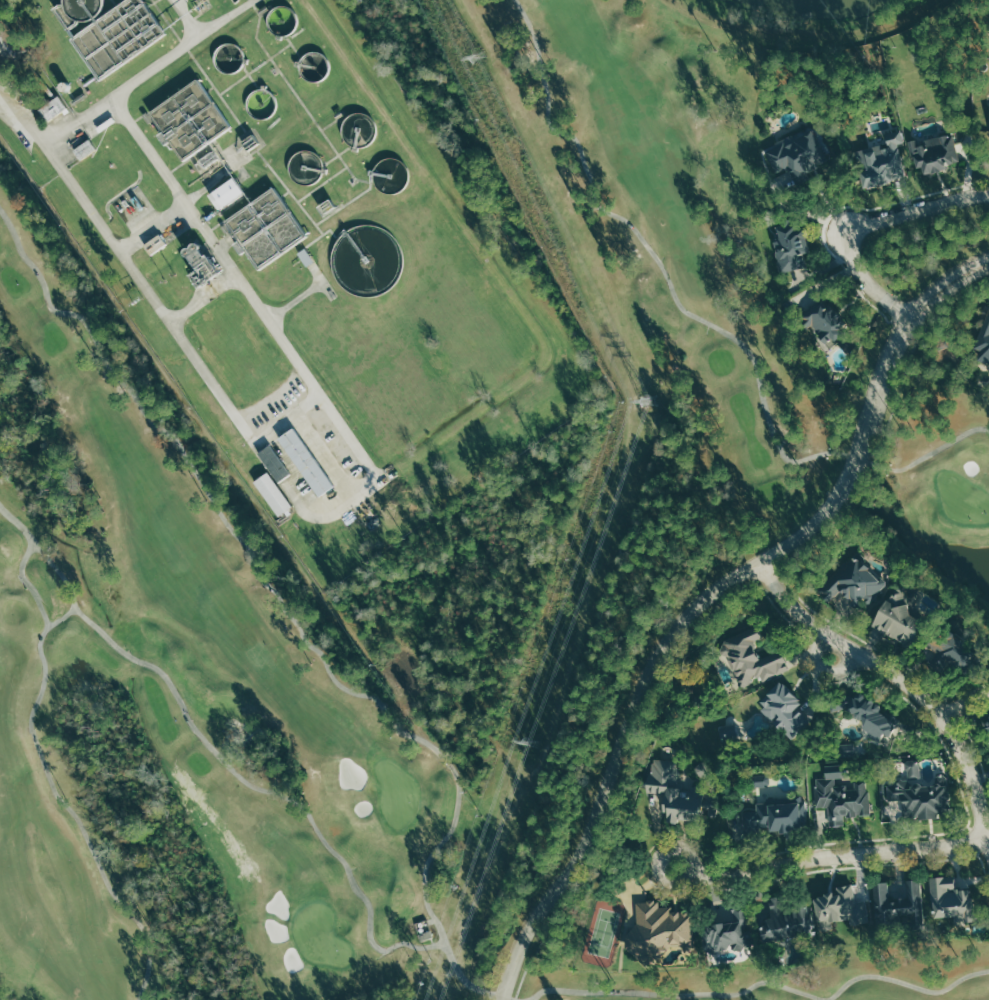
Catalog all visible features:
building: (13, 40)
power tower: (478, 56)
road: (142, 79)
building: (58, 108)
building: (988, 112)
building: (197, 124)
building: (932, 152)
building: (799, 158)
building: (881, 168)
building: (232, 193)
road: (832, 210)
road: (862, 223)
building: (272, 227)
road: (155, 228)
building: (791, 246)
building: (209, 265)
road: (945, 281)
road: (204, 301)
wastewater plant: (353, 308)
road: (700, 318)
building: (827, 321)
building: (983, 339)
power tower: (648, 400)
road: (251, 433)
building: (313, 461)
building: (279, 493)
park: (962, 498)
park: (121, 499)
road: (820, 535)
road: (42, 554)
road: (261, 578)
building: (851, 584)
building: (901, 617)
road: (671, 630)
building: (954, 651)
building: (748, 656)
road: (822, 668)
road: (845, 678)
road: (904, 682)
road: (965, 699)
building: (783, 710)
building: (868, 714)
building: (987, 722)
power tower: (530, 741)
road: (970, 741)
building: (988, 744)
road: (48, 776)
building: (759, 781)
road: (254, 785)
building: (679, 793)
park: (397, 794)
building: (919, 796)
building: (839, 799)
building: (774, 814)
road: (829, 855)
road: (980, 858)
road: (839, 868)
building: (950, 899)
building: (901, 905)
building: (843, 910)
building: (786, 916)
building: (730, 929)
park: (603, 932)
building: (657, 932)
road: (765, 981)
road: (467, 982)

